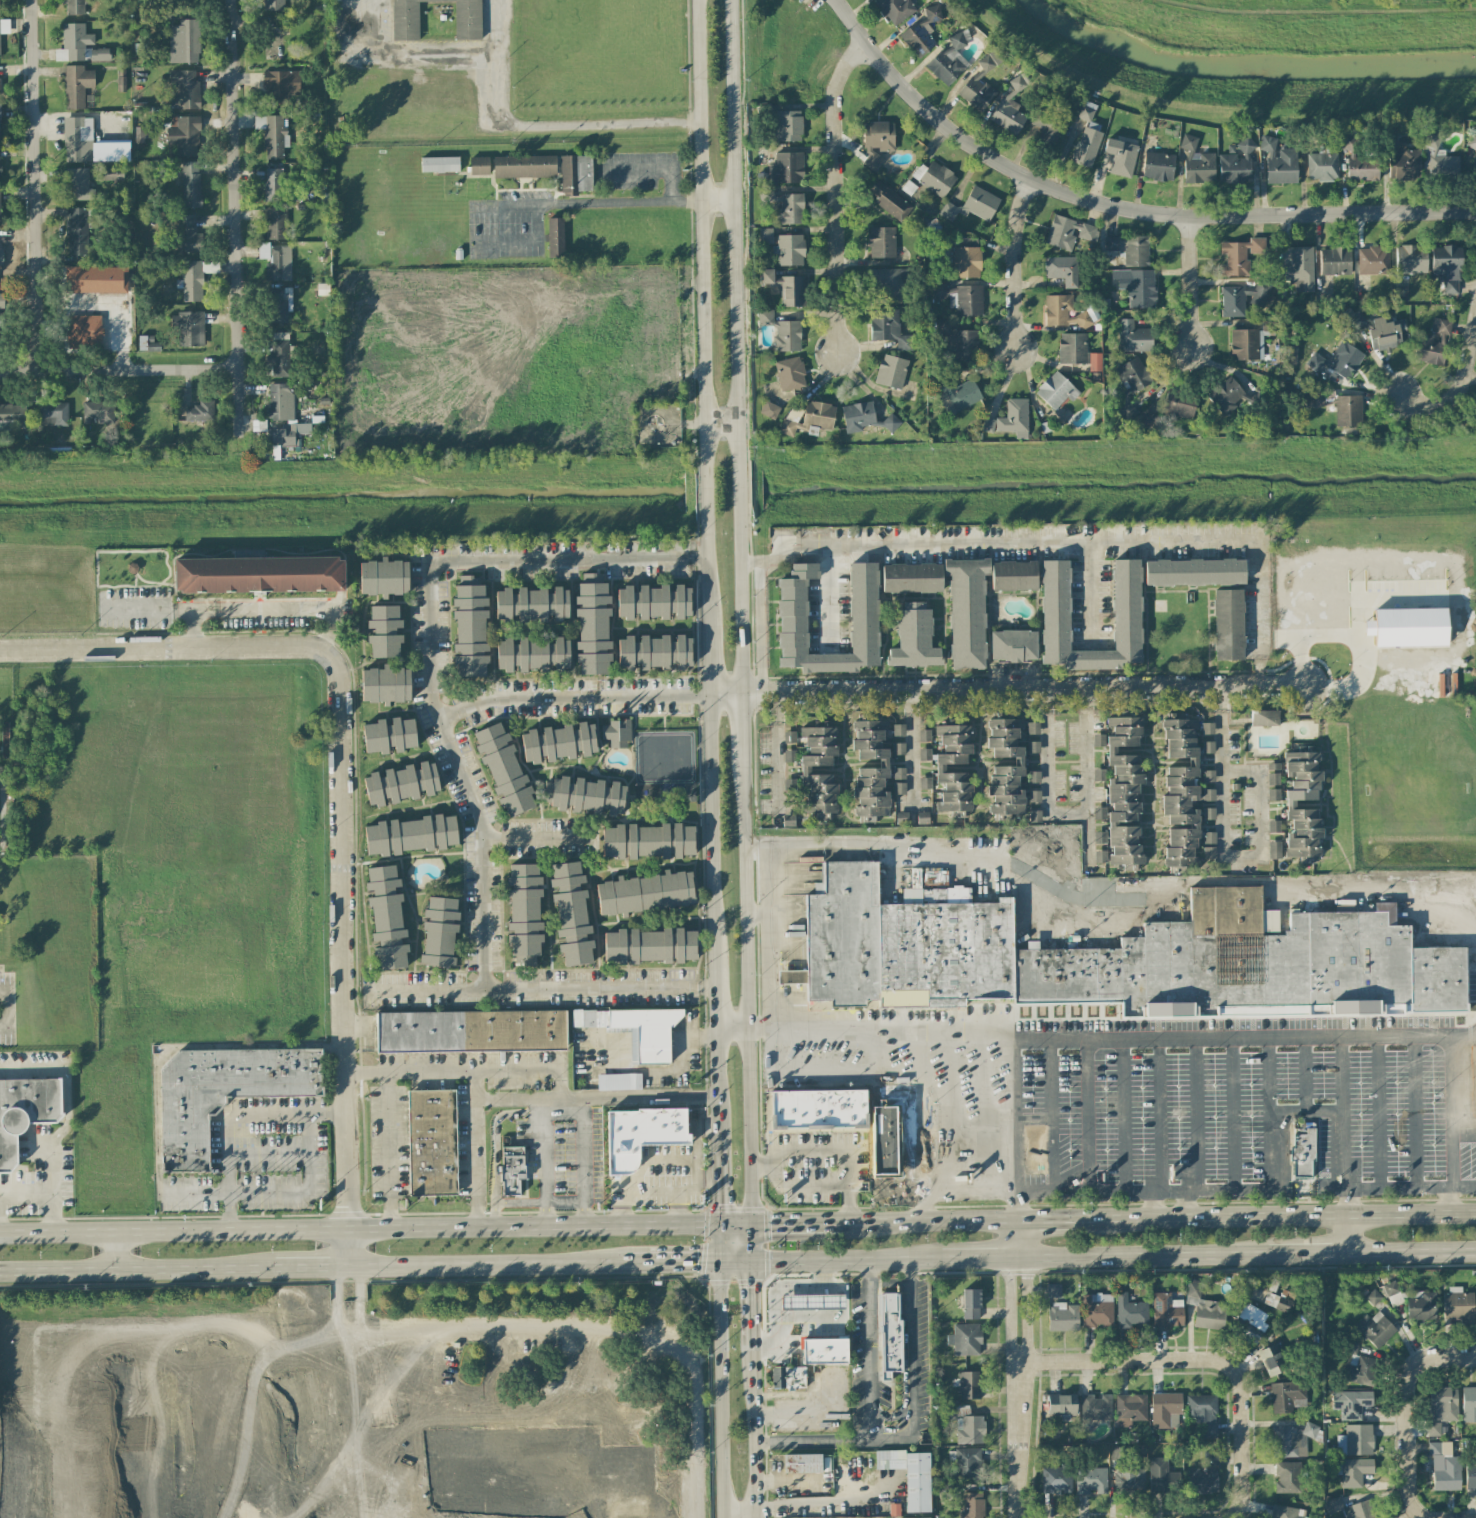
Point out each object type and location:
building: (272, 5)
building: (75, 6)
building: (895, 9)
building: (467, 21)
building: (4, 26)
building: (923, 31)
building: (184, 42)
building: (73, 43)
building: (99, 54)
road: (441, 56)
building: (990, 59)
building: (949, 60)
river: (1250, 64)
building: (121, 84)
building: (76, 86)
building: (280, 86)
building: (0, 88)
building: (183, 89)
building: (976, 92)
building: (1010, 107)
road: (362, 110)
building: (1086, 110)
road: (529, 125)
building: (1047, 125)
building: (787, 126)
building: (272, 135)
building: (77, 139)
building: (877, 141)
building: (1086, 147)
building: (1471, 155)
building: (1120, 157)
building: (1439, 158)
building: (1196, 162)
building: (1236, 162)
building: (1279, 162)
building: (1403, 163)
building: (439, 164)
building: (1322, 165)
building: (479, 166)
building: (524, 166)
building: (1158, 166)
building: (788, 167)
building: (109, 173)
road: (656, 173)
building: (0, 174)
building: (575, 174)
building: (934, 178)
building: (191, 184)
building: (272, 184)
road: (35, 185)
building: (77, 185)
road: (834, 192)
building: (888, 200)
road: (715, 202)
road: (587, 203)
building: (972, 205)
road: (1117, 206)
building: (789, 209)
road: (234, 218)
building: (275, 223)
building: (77, 231)
building: (1067, 232)
building: (188, 235)
building: (766, 236)
building: (555, 237)
road: (528, 240)
building: (881, 242)
building: (1130, 249)
building: (790, 250)
building: (1, 253)
building: (1239, 256)
building: (966, 257)
building: (1411, 259)
building: (1373, 260)
building: (275, 261)
building: (1335, 261)
road: (1014, 263)
building: (1447, 267)
building: (1299, 269)
building: (1062, 270)
building: (83, 278)
building: (194, 278)
road: (1192, 282)
building: (886, 284)
building: (786, 287)
building: (1136, 287)
building: (960, 298)
building: (1235, 299)
building: (1, 300)
building: (279, 304)
building: (1061, 312)
building: (1440, 327)
building: (888, 328)
building: (190, 329)
building: (1, 331)
building: (83, 332)
building: (782, 332)
building: (1384, 334)
building: (1133, 337)
building: (957, 340)
building: (1248, 342)
building: (147, 344)
road: (734, 347)
building: (1427, 350)
building: (1077, 351)
building: (279, 354)
building: (1289, 355)
building: (1337, 361)
road: (118, 369)
building: (891, 371)
building: (790, 374)
building: (1129, 388)
building: (1055, 390)
road: (1457, 393)
building: (957, 395)
building: (1226, 396)
building: (1317, 399)
building: (280, 401)
building: (1179, 405)
building: (769, 410)
building: (99, 411)
building: (1347, 411)
building: (12, 412)
building: (200, 412)
building: (53, 413)
building: (818, 415)
building: (864, 418)
building: (1010, 419)
building: (791, 420)
road: (718, 424)
building: (288, 434)
road: (701, 484)
road: (1036, 538)
road: (755, 564)
building: (1194, 572)
building: (258, 575)
building: (1013, 576)
building: (383, 578)
building: (911, 578)
road: (839, 586)
road: (1092, 587)
building: (653, 602)
building: (531, 605)
building: (1055, 605)
road: (264, 608)
building: (966, 612)
road: (1358, 614)
building: (792, 616)
building: (1228, 625)
building: (592, 626)
building: (469, 627)
building: (1408, 627)
building: (383, 631)
road: (1306, 637)
building: (914, 638)
road: (433, 645)
road: (147, 646)
building: (1013, 646)
building: (654, 652)
building: (532, 654)
building: (385, 685)
road: (1032, 692)
road: (723, 694)
road: (574, 698)
building: (1264, 718)
building: (1098, 722)
building: (1032, 728)
building: (1207, 728)
road: (741, 729)
building: (898, 730)
building: (616, 733)
building: (924, 735)
building: (389, 736)
building: (789, 737)
building: (4, 739)
road: (916, 740)
building: (558, 743)
building: (1033, 747)
building: (1208, 747)
road: (782, 748)
building: (899, 749)
building: (924, 754)
building: (789, 756)
building: (883, 763)
road: (1232, 765)
building: (940, 768)
building: (1005, 768)
building: (503, 769)
building: (804, 770)
road: (1049, 772)
building: (898, 773)
building: (1273, 774)
road: (1088, 775)
building: (1099, 775)
building: (1208, 776)
building: (1033, 777)
building: (925, 783)
building: (401, 784)
building: (790, 785)
building: (899, 787)
building: (1123, 792)
building: (1180, 792)
road: (1265, 794)
building: (1273, 795)
building: (584, 796)
building: (1034, 796)
building: (1290, 804)
building: (1099, 813)
building: (1208, 813)
building: (1034, 816)
building: (1274, 826)
building: (410, 835)
building: (1100, 837)
road: (539, 838)
building: (647, 841)
road: (814, 841)
building: (1209, 845)
building: (1274, 850)
building: (1100, 856)
building: (934, 878)
road: (1377, 886)
building: (645, 893)
road: (1440, 905)
road: (787, 908)
building: (524, 913)
building: (571, 914)
road: (755, 916)
building: (386, 917)
road: (1047, 922)
building: (439, 931)
road: (344, 939)
building: (650, 946)
building: (1112, 956)
road: (789, 976)
building: (791, 977)
road: (542, 991)
road: (744, 995)
road: (711, 997)
road: (9, 1008)
road: (1114, 1025)
road: (727, 1026)
road: (767, 1026)
building: (638, 1030)
building: (470, 1031)
road: (680, 1059)
road: (412, 1071)
road: (368, 1073)
road: (67, 1074)
building: (1473, 1080)
road: (712, 1081)
building: (618, 1082)
building: (224, 1093)
road: (1449, 1096)
road: (636, 1098)
road: (517, 1099)
building: (818, 1109)
road: (1014, 1110)
building: (25, 1112)
road: (233, 1118)
building: (641, 1135)
road: (156, 1137)
building: (432, 1142)
road: (475, 1147)
road: (824, 1150)
building: (1034, 1151)
building: (1302, 1153)
building: (881, 1154)
road: (544, 1161)
road: (581, 1161)
road: (1449, 1161)
building: (511, 1170)
road: (716, 1180)
road: (801, 1184)
road: (53, 1186)
road: (1462, 1188)
road: (26, 1192)
road: (949, 1197)
road: (1449, 1200)
road: (1348, 1202)
road: (1185, 1204)
road: (1153, 1205)
road: (1014, 1207)
road: (924, 1209)
road: (1283, 1215)
road: (1053, 1219)
road: (929, 1220)
road: (795, 1224)
traffic signals: (718, 1225)
road: (732, 1225)
traffic signals: (746, 1226)
road: (359, 1228)
road: (1349, 1233)
road: (1016, 1237)
road: (746, 1244)
road: (113, 1250)
road: (1413, 1251)
road: (1310, 1254)
road: (980, 1256)
road: (1143, 1256)
road: (844, 1259)
road: (677, 1263)
traffic signals: (719, 1263)
road: (733, 1263)
traffic signals: (747, 1263)
road: (493, 1265)
road: (313, 1266)
road: (138, 1269)
building: (1054, 1290)
building: (1393, 1293)
building: (1372, 1297)
road: (337, 1299)
road: (358, 1299)
building: (1283, 1301)
building: (812, 1302)
building: (971, 1304)
road: (747, 1305)
building: (1458, 1305)
building: (1421, 1306)
building: (1204, 1308)
road: (1011, 1309)
road: (1024, 1310)
building: (1097, 1311)
building: (1166, 1311)
building: (1130, 1312)
building: (1063, 1317)
building: (1252, 1323)
road: (150, 1325)
building: (1375, 1329)
road: (602, 1332)
building: (889, 1334)
building: (965, 1339)
road: (868, 1343)
building: (1351, 1344)
road: (912, 1348)
road: (561, 1351)
road: (795, 1351)
building: (824, 1351)
road: (1163, 1360)
building: (1270, 1360)
road: (583, 1368)
road: (719, 1371)
building: (1360, 1371)
road: (905, 1376)
building: (788, 1377)
park: (150, 1384)
building: (968, 1385)
road: (572, 1387)
road: (791, 1395)
building: (1287, 1396)
park: (359, 1397)
building: (1351, 1403)
building: (1443, 1404)
building: (1469, 1404)
building: (1060, 1406)
building: (1095, 1407)
building: (1130, 1409)
building: (1165, 1410)
road: (811, 1412)
building: (1203, 1413)
road: (1405, 1414)
building: (965, 1425)
building: (1434, 1429)
road: (750, 1432)
road: (869, 1433)
road: (891, 1438)
building: (1290, 1439)
building: (1359, 1439)
building: (558, 1441)
road: (1017, 1441)
road: (809, 1442)
building: (802, 1463)
building: (968, 1463)
road: (350, 1465)
building: (1444, 1467)
building: (1354, 1472)
building: (1471, 1472)
building: (1204, 1475)
building: (910, 1476)
building: (1161, 1476)
building: (1287, 1477)
building: (1056, 1479)
building: (1129, 1479)
building: (1090, 1480)
road: (1242, 1483)
park: (154, 1484)
road: (493, 1484)
building: (943, 1492)
road: (817, 1502)
building: (971, 1505)
road: (361, 1506)
road: (443, 1507)
building: (1349, 1509)
building: (1285, 1512)
road: (19, 1513)
road: (386, 1513)
road: (736, 1517)

